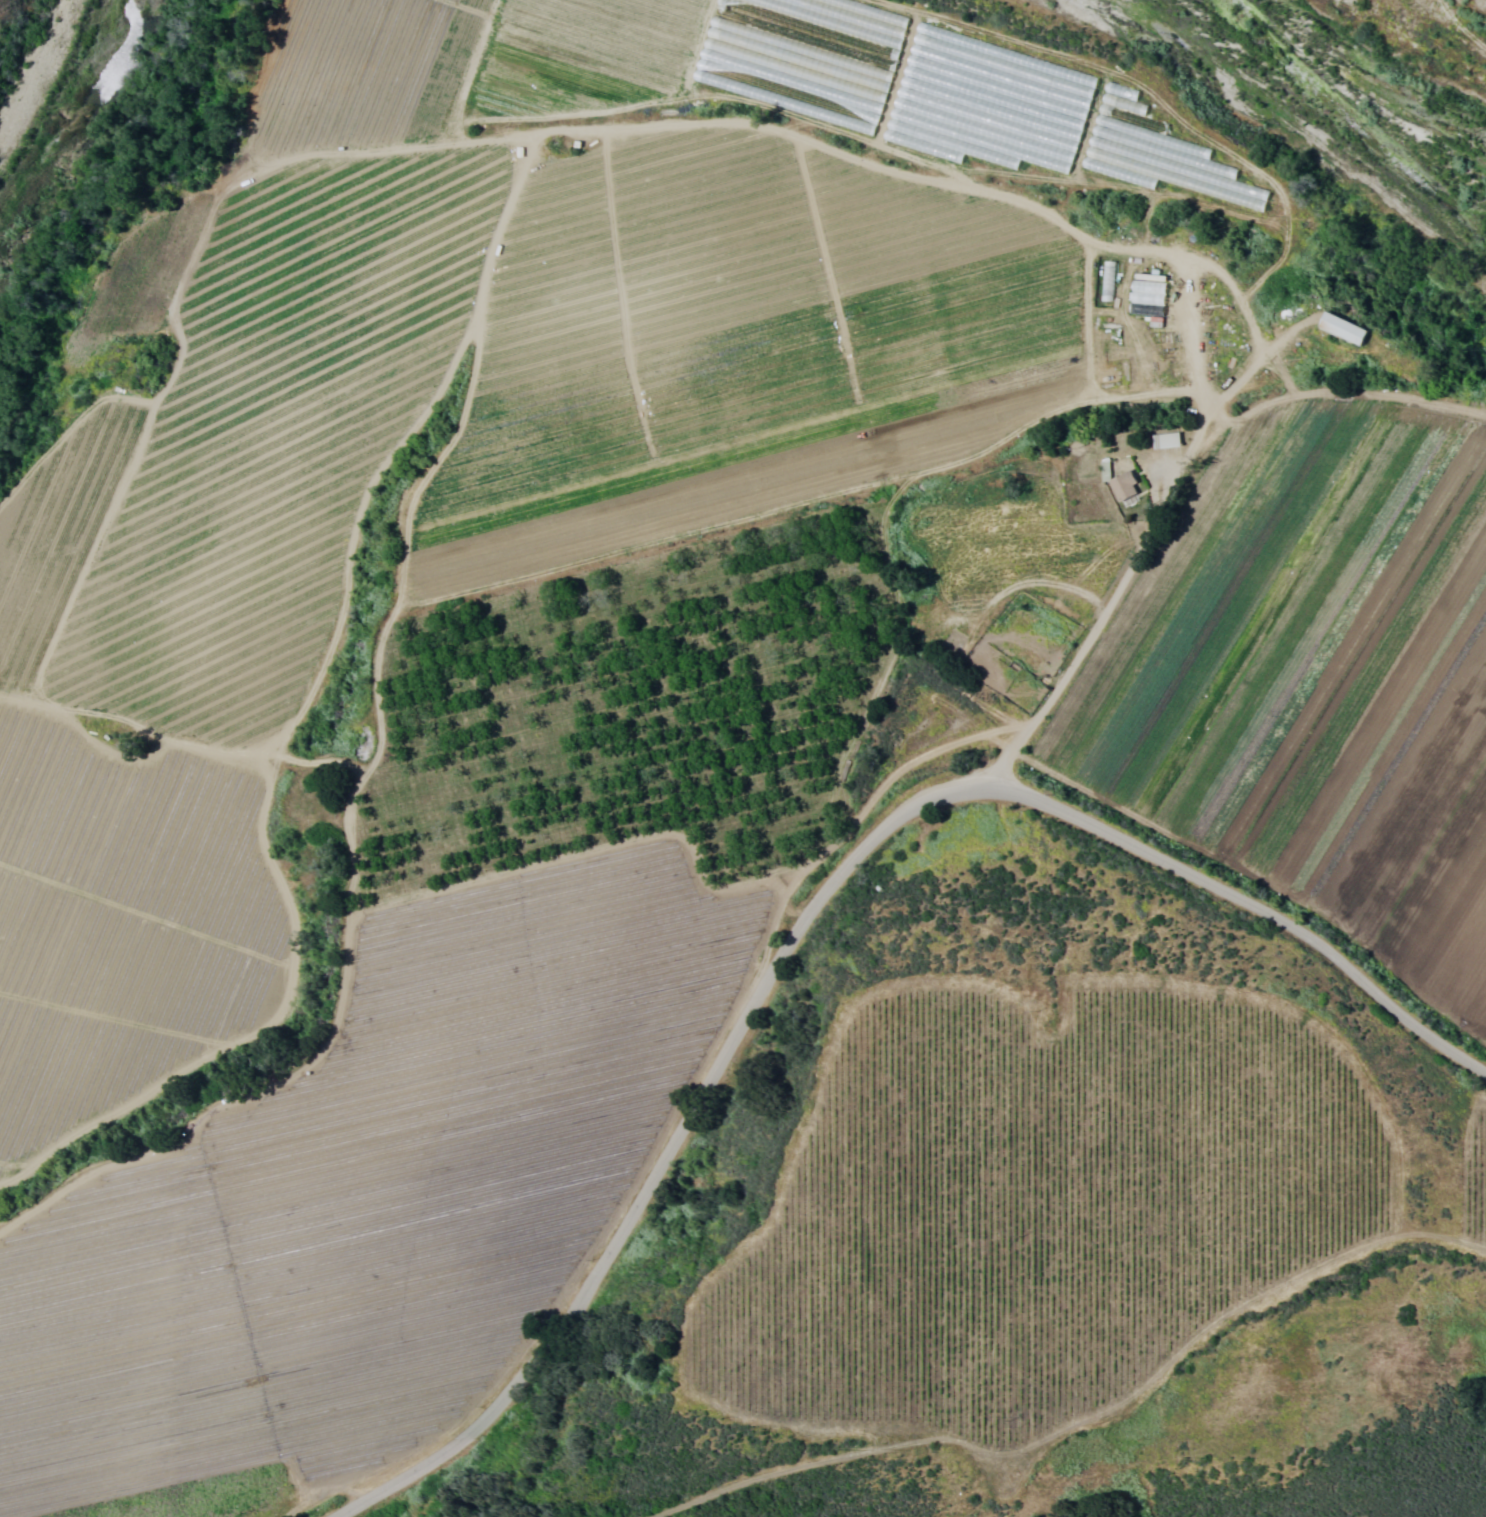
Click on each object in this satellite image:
river: (1409, 88)
river: (64, 100)
building: (1158, 156)
building: (1144, 294)
building: (1338, 328)
building: (1163, 440)
road: (1200, 440)
building: (1120, 485)
crop: (642, 671)
road: (815, 899)
crop: (1477, 1183)

